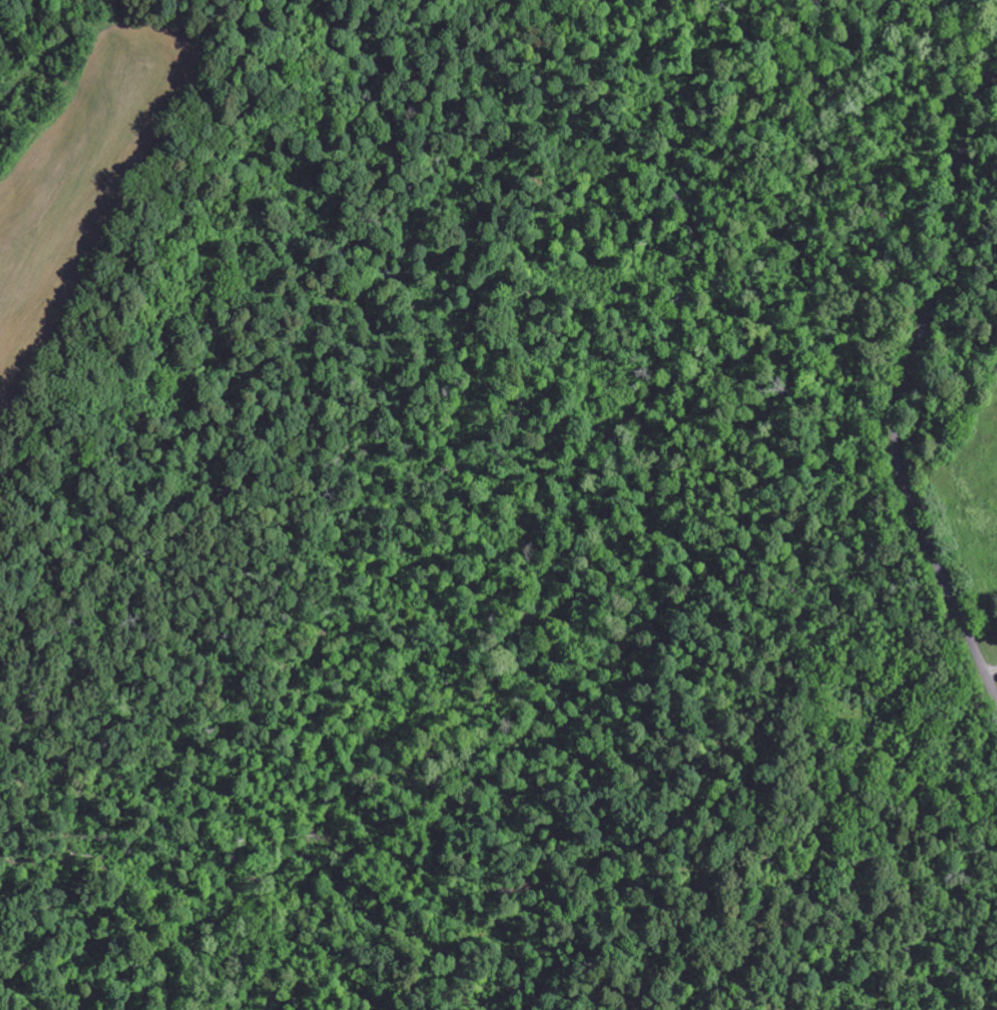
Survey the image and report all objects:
road: (907, 384)

